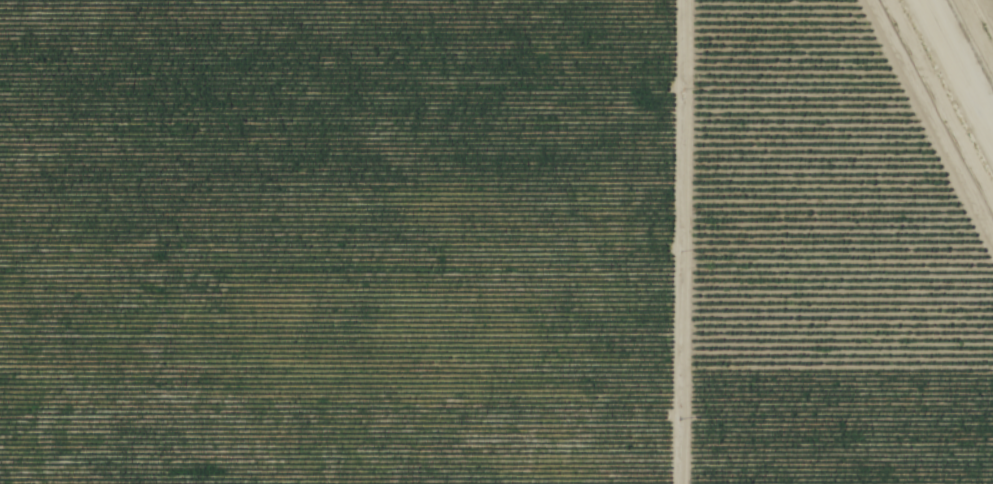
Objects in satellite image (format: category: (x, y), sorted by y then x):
railway: (956, 70)
railway: (951, 81)
crop: (332, 241)
road: (675, 242)
crop: (819, 266)

